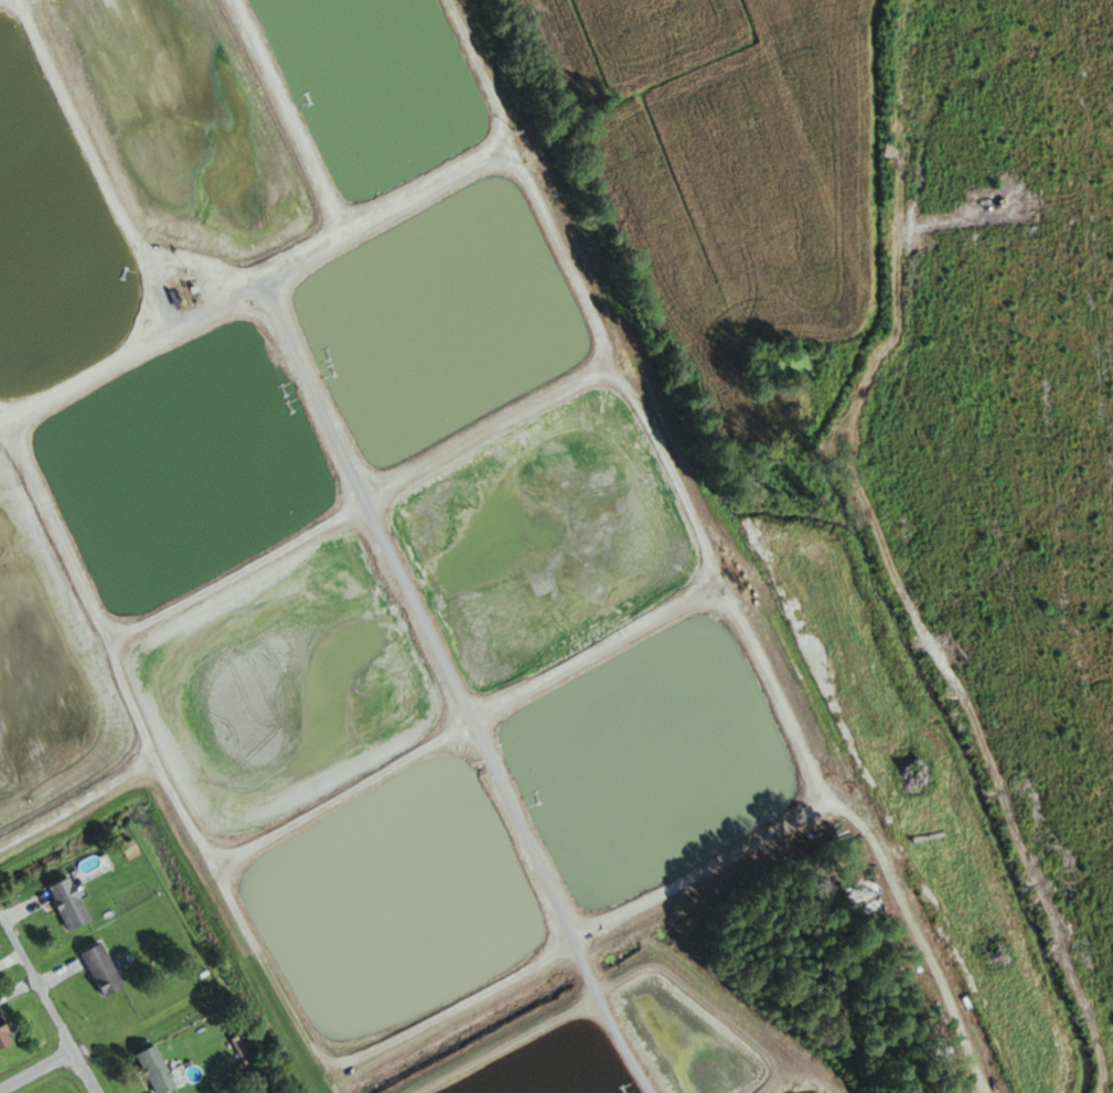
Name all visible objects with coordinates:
building: (71, 903)
road: (19, 911)
road: (10, 957)
building: (103, 969)
road: (57, 977)
road: (17, 988)
road: (46, 1004)
building: (4, 1035)
building: (157, 1070)
road: (36, 1071)

